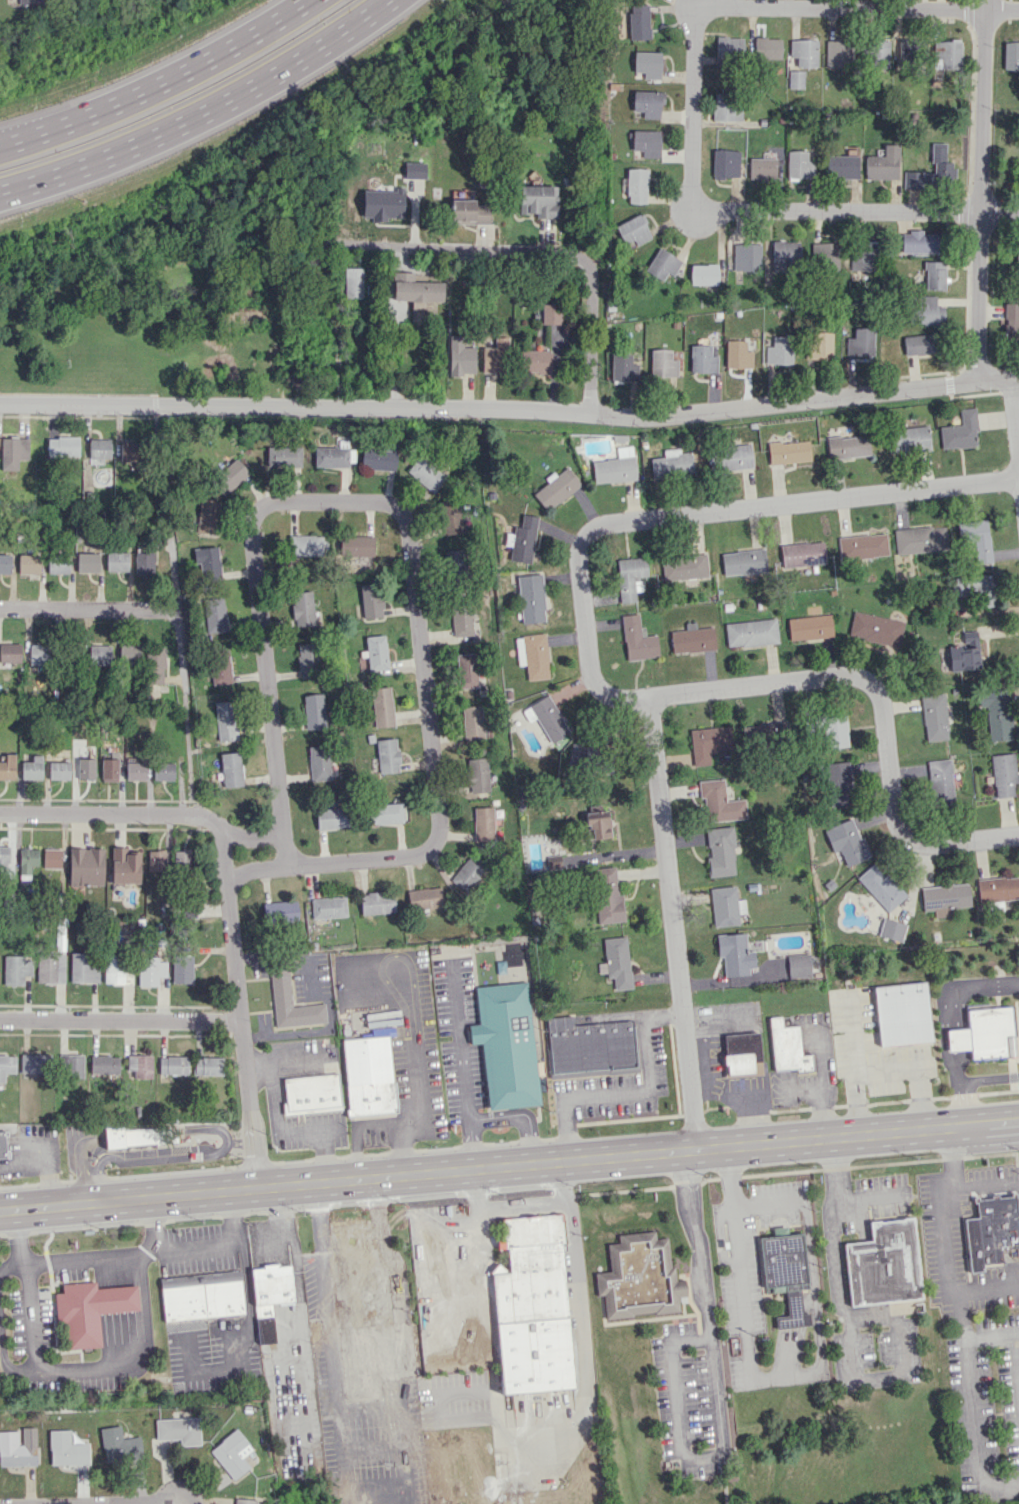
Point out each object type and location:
road: (720, 3)
road: (859, 7)
road: (684, 16)
building: (638, 22)
building: (767, 48)
building: (729, 50)
building: (905, 51)
building: (804, 52)
building: (838, 53)
building: (878, 54)
building: (946, 54)
building: (1010, 55)
building: (647, 64)
building: (796, 79)
road: (158, 83)
building: (647, 103)
building: (726, 107)
road: (202, 114)
building: (645, 143)
building: (940, 162)
building: (725, 163)
building: (883, 164)
building: (799, 165)
building: (762, 166)
building: (841, 167)
building: (414, 170)
building: (915, 180)
building: (634, 185)
road: (978, 190)
building: (538, 201)
building: (382, 204)
road: (761, 210)
building: (469, 212)
road: (685, 225)
building: (633, 230)
building: (918, 243)
road: (460, 249)
building: (1017, 253)
building: (785, 254)
building: (824, 256)
building: (862, 256)
building: (746, 257)
building: (662, 264)
road: (421, 267)
building: (703, 274)
building: (934, 275)
building: (353, 283)
building: (415, 289)
park: (167, 295)
building: (926, 310)
building: (550, 314)
building: (1011, 317)
road: (390, 326)
building: (860, 343)
road: (591, 344)
building: (918, 344)
building: (819, 346)
building: (779, 350)
building: (737, 355)
building: (460, 357)
building: (494, 357)
building: (701, 359)
building: (535, 361)
building: (662, 363)
building: (622, 368)
road: (510, 413)
road: (1014, 430)
building: (960, 431)
building: (907, 439)
building: (62, 446)
building: (847, 446)
building: (99, 448)
building: (12, 452)
building: (788, 452)
building: (282, 456)
building: (331, 457)
building: (379, 457)
building: (730, 458)
building: (671, 465)
building: (615, 467)
building: (425, 474)
building: (229, 477)
building: (556, 488)
road: (362, 503)
road: (695, 514)
building: (206, 516)
building: (451, 517)
building: (976, 538)
building: (523, 539)
building: (919, 539)
building: (304, 545)
building: (357, 545)
building: (862, 546)
building: (804, 553)
building: (116, 561)
building: (87, 562)
building: (143, 562)
building: (207, 562)
building: (744, 562)
building: (4, 564)
building: (28, 564)
building: (57, 564)
building: (684, 567)
building: (453, 568)
building: (630, 578)
building: (976, 588)
building: (530, 599)
building: (370, 600)
road: (88, 608)
building: (302, 608)
road: (176, 611)
building: (214, 615)
building: (460, 622)
building: (810, 627)
building: (875, 629)
building: (751, 633)
building: (637, 639)
building: (692, 639)
building: (10, 652)
building: (375, 652)
building: (964, 653)
building: (39, 654)
building: (129, 654)
building: (99, 655)
building: (532, 655)
building: (307, 660)
building: (155, 665)
building: (219, 666)
building: (467, 670)
building: (381, 707)
road: (880, 707)
building: (313, 711)
building: (995, 713)
building: (545, 717)
building: (934, 717)
building: (224, 721)
building: (472, 723)
building: (831, 729)
building: (764, 734)
building: (708, 743)
building: (387, 756)
building: (318, 763)
building: (7, 767)
building: (32, 768)
building: (85, 769)
building: (231, 769)
building: (58, 770)
building: (109, 770)
building: (135, 771)
building: (163, 772)
building: (477, 775)
building: (1003, 775)
building: (940, 781)
building: (837, 784)
building: (719, 802)
building: (385, 814)
road: (101, 816)
building: (331, 818)
road: (211, 824)
building: (483, 824)
building: (597, 825)
road: (251, 838)
building: (846, 841)
building: (720, 851)
road: (614, 854)
building: (3, 857)
building: (51, 858)
building: (181, 858)
building: (156, 860)
building: (27, 861)
building: (125, 865)
building: (85, 866)
building: (467, 873)
building: (880, 887)
building: (998, 888)
building: (607, 896)
building: (424, 898)
building: (944, 898)
building: (377, 902)
building: (725, 906)
building: (328, 907)
building: (280, 912)
road: (673, 924)
building: (891, 929)
building: (734, 954)
building: (52, 961)
building: (616, 962)
building: (798, 966)
building: (83, 967)
building: (16, 969)
building: (115, 969)
building: (182, 969)
building: (150, 971)
building: (291, 1002)
road: (242, 1008)
road: (949, 1010)
building: (903, 1013)
road: (122, 1020)
building: (984, 1034)
road: (458, 1044)
building: (505, 1045)
building: (589, 1045)
building: (786, 1047)
building: (742, 1054)
building: (31, 1063)
building: (104, 1064)
building: (6, 1065)
building: (140, 1065)
building: (173, 1065)
building: (71, 1066)
building: (207, 1066)
building: (369, 1077)
road: (989, 1078)
road: (630, 1091)
building: (311, 1094)
road: (963, 1106)
road: (521, 1114)
building: (132, 1136)
road: (471, 1144)
building: (3, 1145)
road: (509, 1166)
road: (982, 1185)
road: (476, 1190)
road: (869, 1199)
road: (766, 1205)
road: (540, 1206)
road: (450, 1222)
road: (150, 1227)
building: (991, 1230)
road: (945, 1232)
road: (322, 1257)
road: (391, 1258)
road: (738, 1260)
building: (883, 1264)
road: (11, 1269)
building: (785, 1273)
building: (638, 1277)
building: (353, 1283)
building: (201, 1296)
building: (269, 1297)
building: (531, 1308)
building: (89, 1310)
road: (816, 1316)
road: (849, 1334)
road: (329, 1340)
road: (1018, 1341)
road: (2, 1361)
road: (121, 1365)
road: (715, 1393)
road: (971, 1403)
road: (397, 1410)
road: (337, 1427)
building: (178, 1430)
building: (119, 1446)
building: (18, 1447)
building: (66, 1449)
building: (231, 1454)
road: (176, 1486)
building: (243, 1501)
road: (137, 1503)

